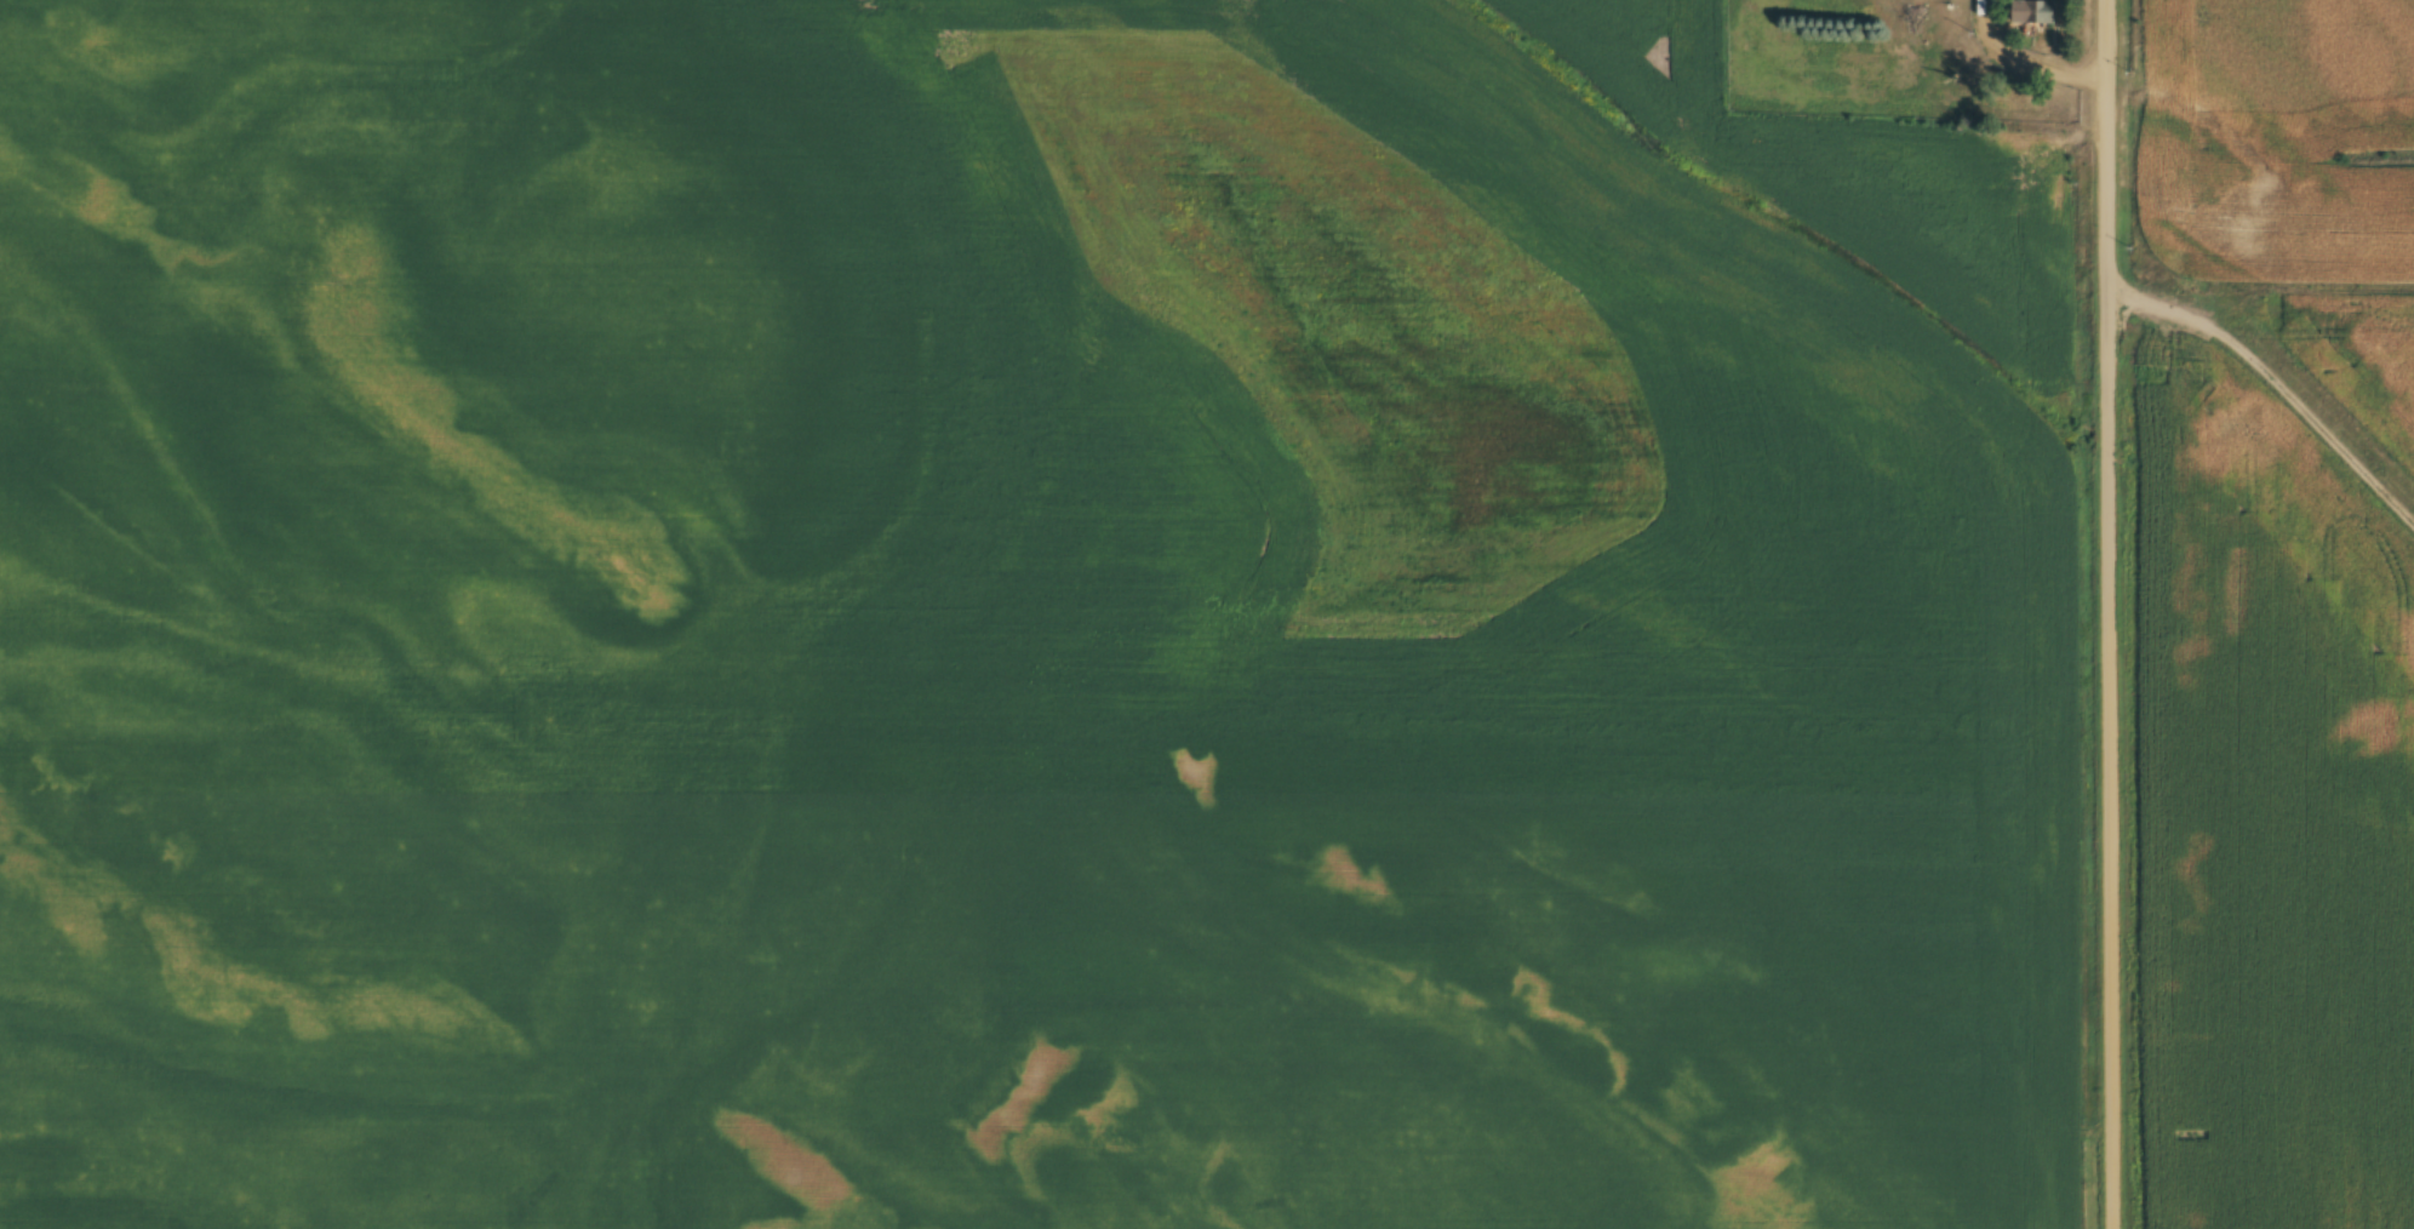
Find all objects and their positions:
building: (2033, 11)
road: (2273, 376)
road: (2105, 614)

